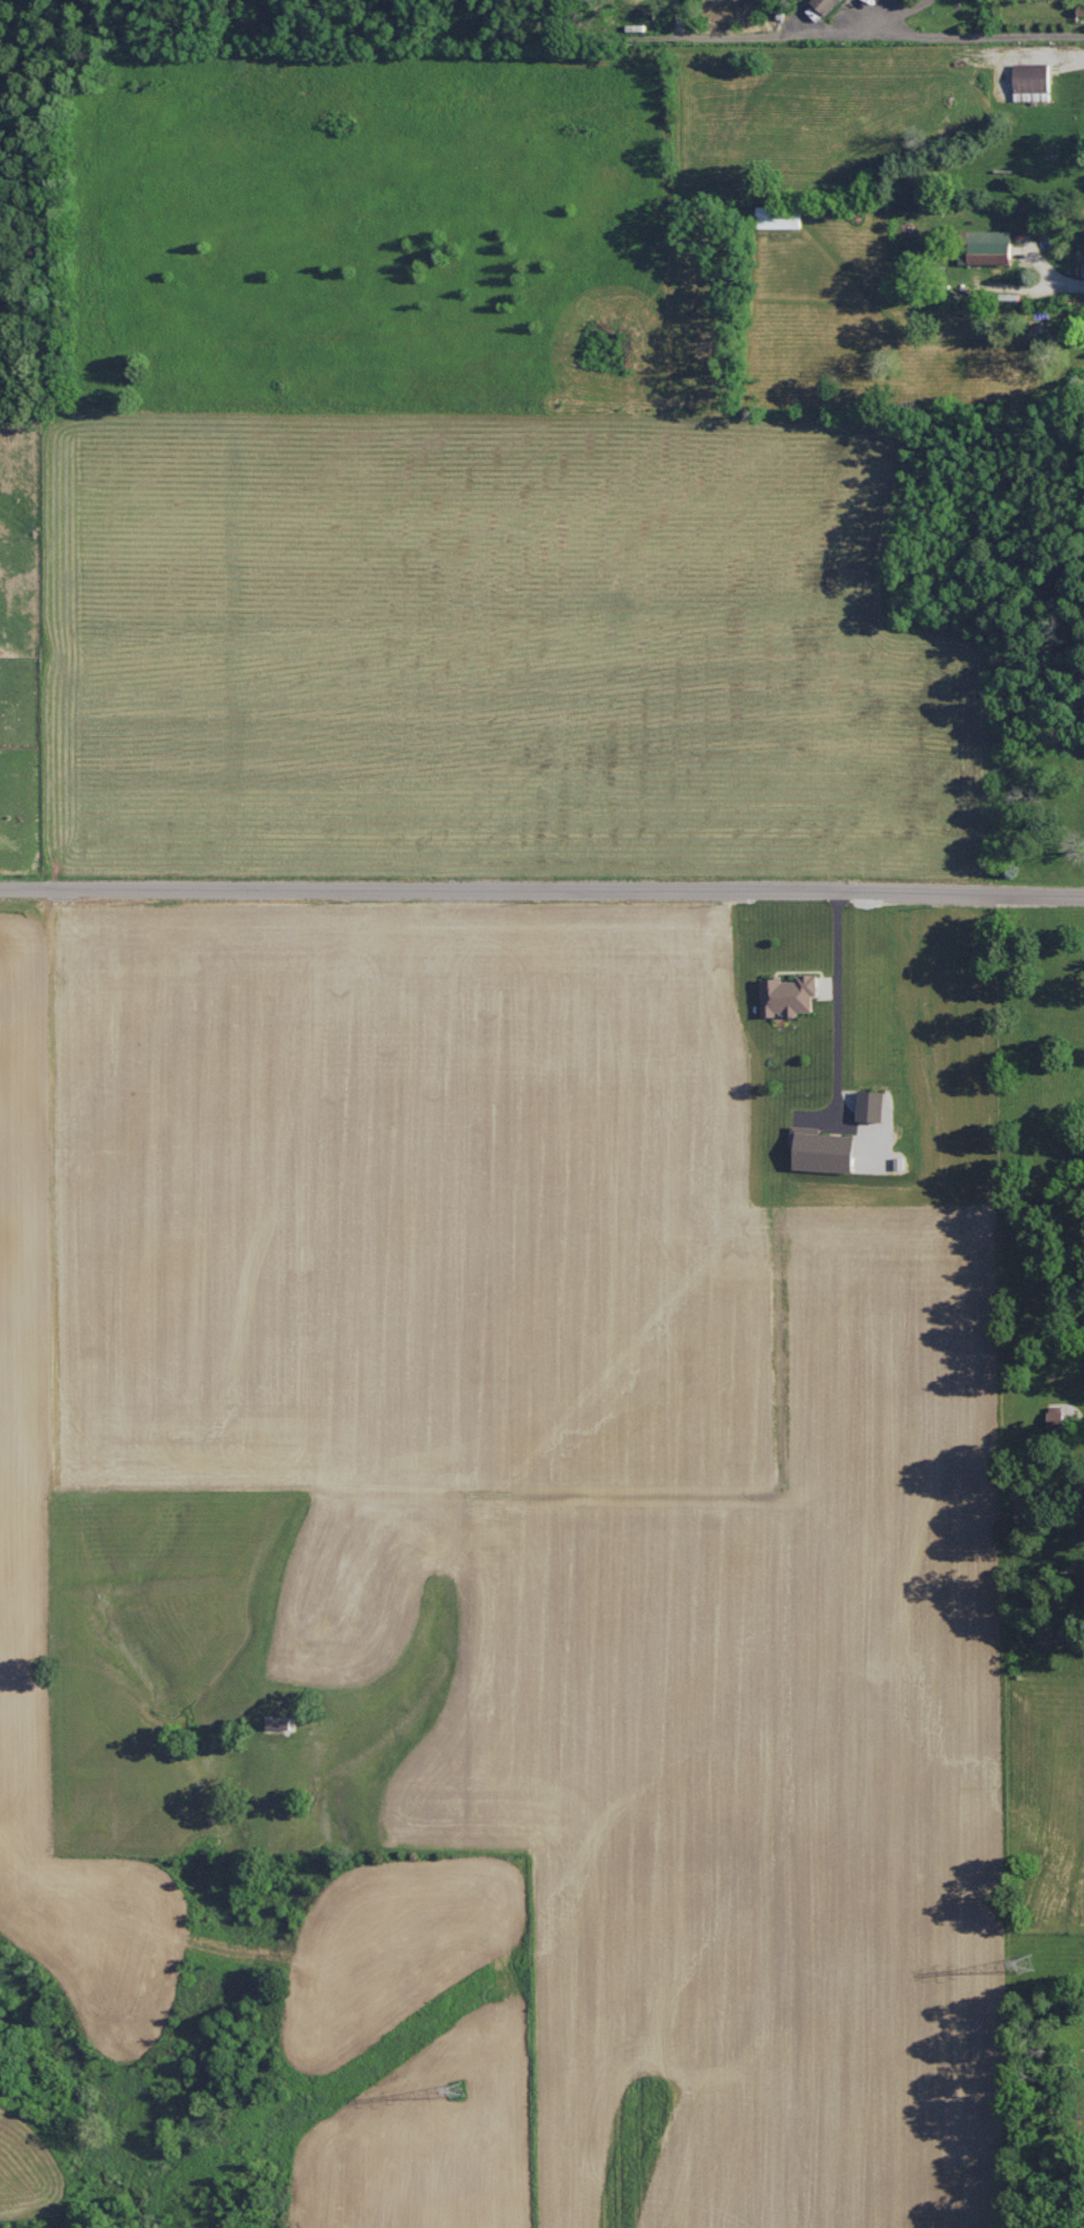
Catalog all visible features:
building: (823, 5)
road: (911, 9)
road: (987, 36)
building: (1029, 74)
building: (778, 216)
building: (987, 245)
road: (1064, 287)
road: (542, 889)
building: (786, 995)
road: (838, 1002)
building: (868, 1106)
building: (819, 1149)
building: (276, 1721)
power tower: (1028, 1964)
power tower: (458, 2087)

